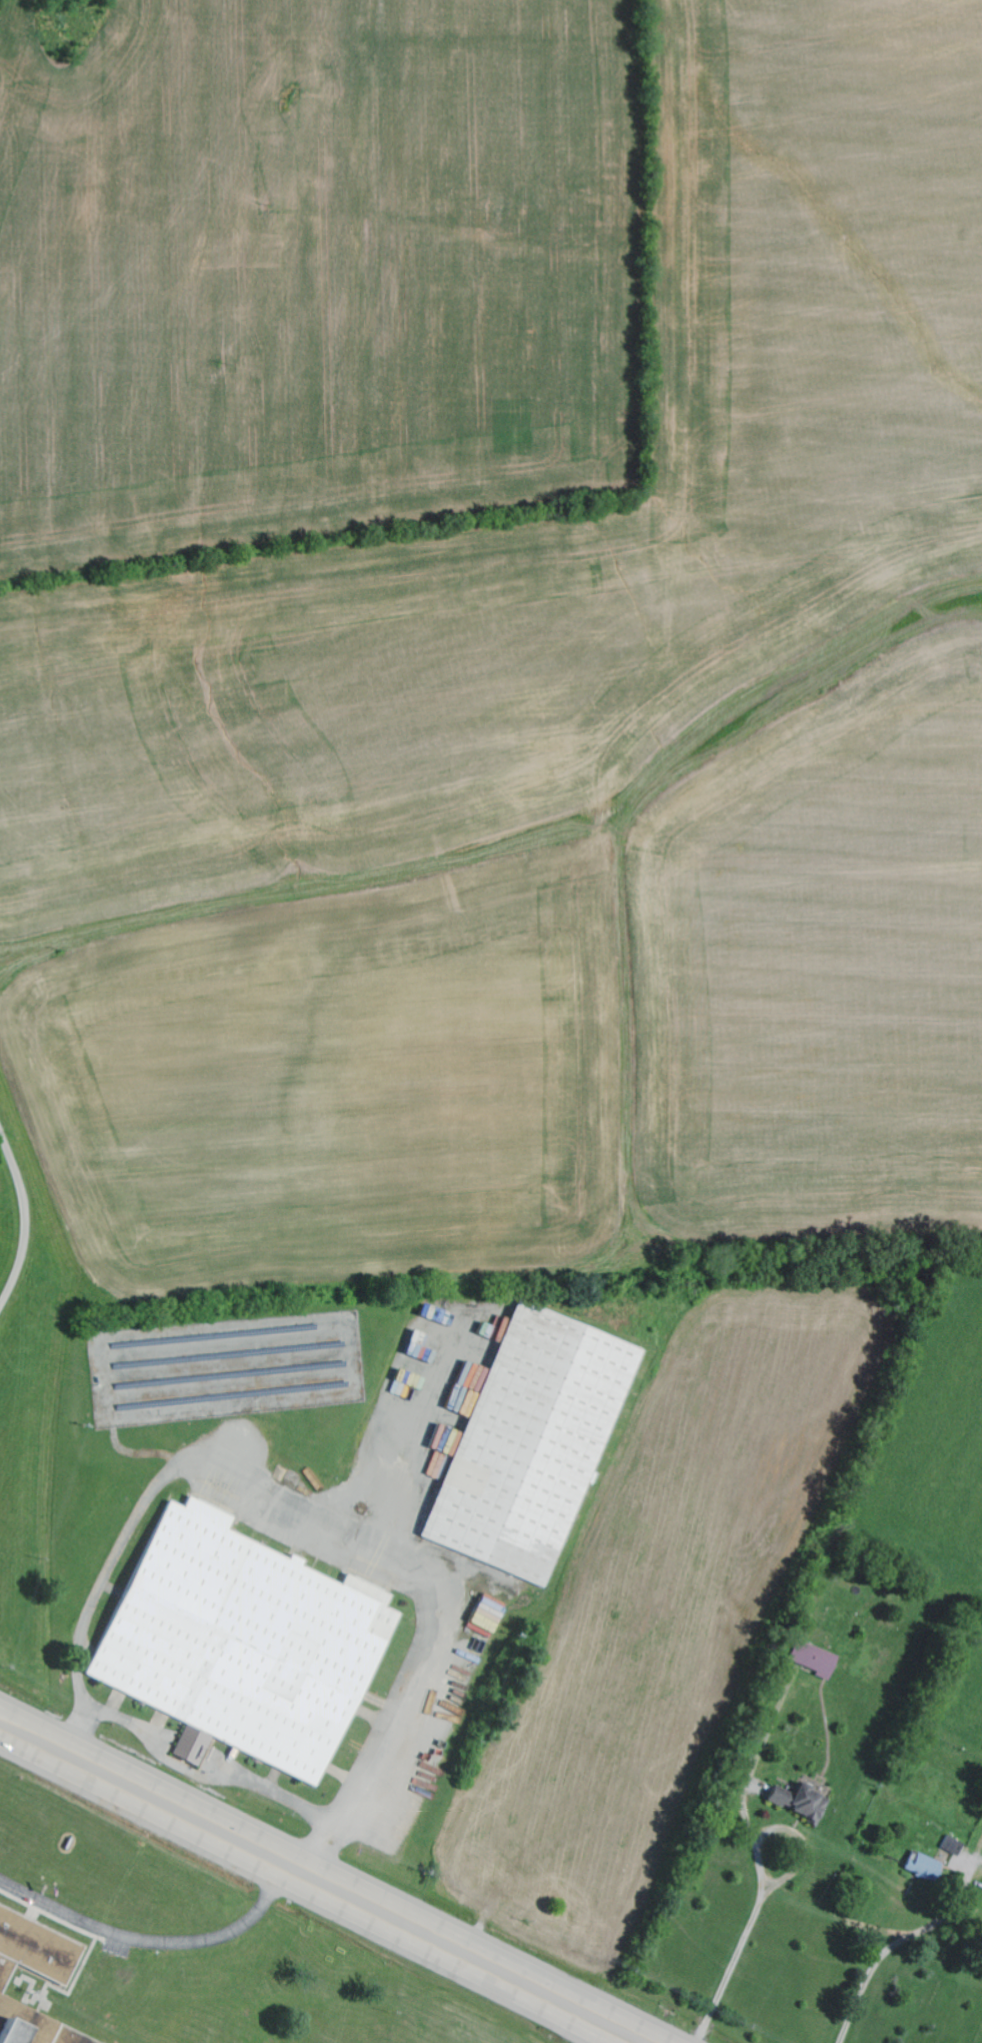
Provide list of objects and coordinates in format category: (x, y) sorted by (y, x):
road: (27, 1220)
building: (461, 1406)
building: (531, 1443)
road: (206, 1463)
building: (487, 1616)
building: (242, 1643)
building: (814, 1660)
road: (80, 1731)
building: (800, 1803)
road: (792, 1833)
building: (922, 1867)
road: (321, 1882)
road: (155, 1945)
road: (896, 1947)
building: (35, 1951)
road: (735, 1966)
building: (8, 2032)

